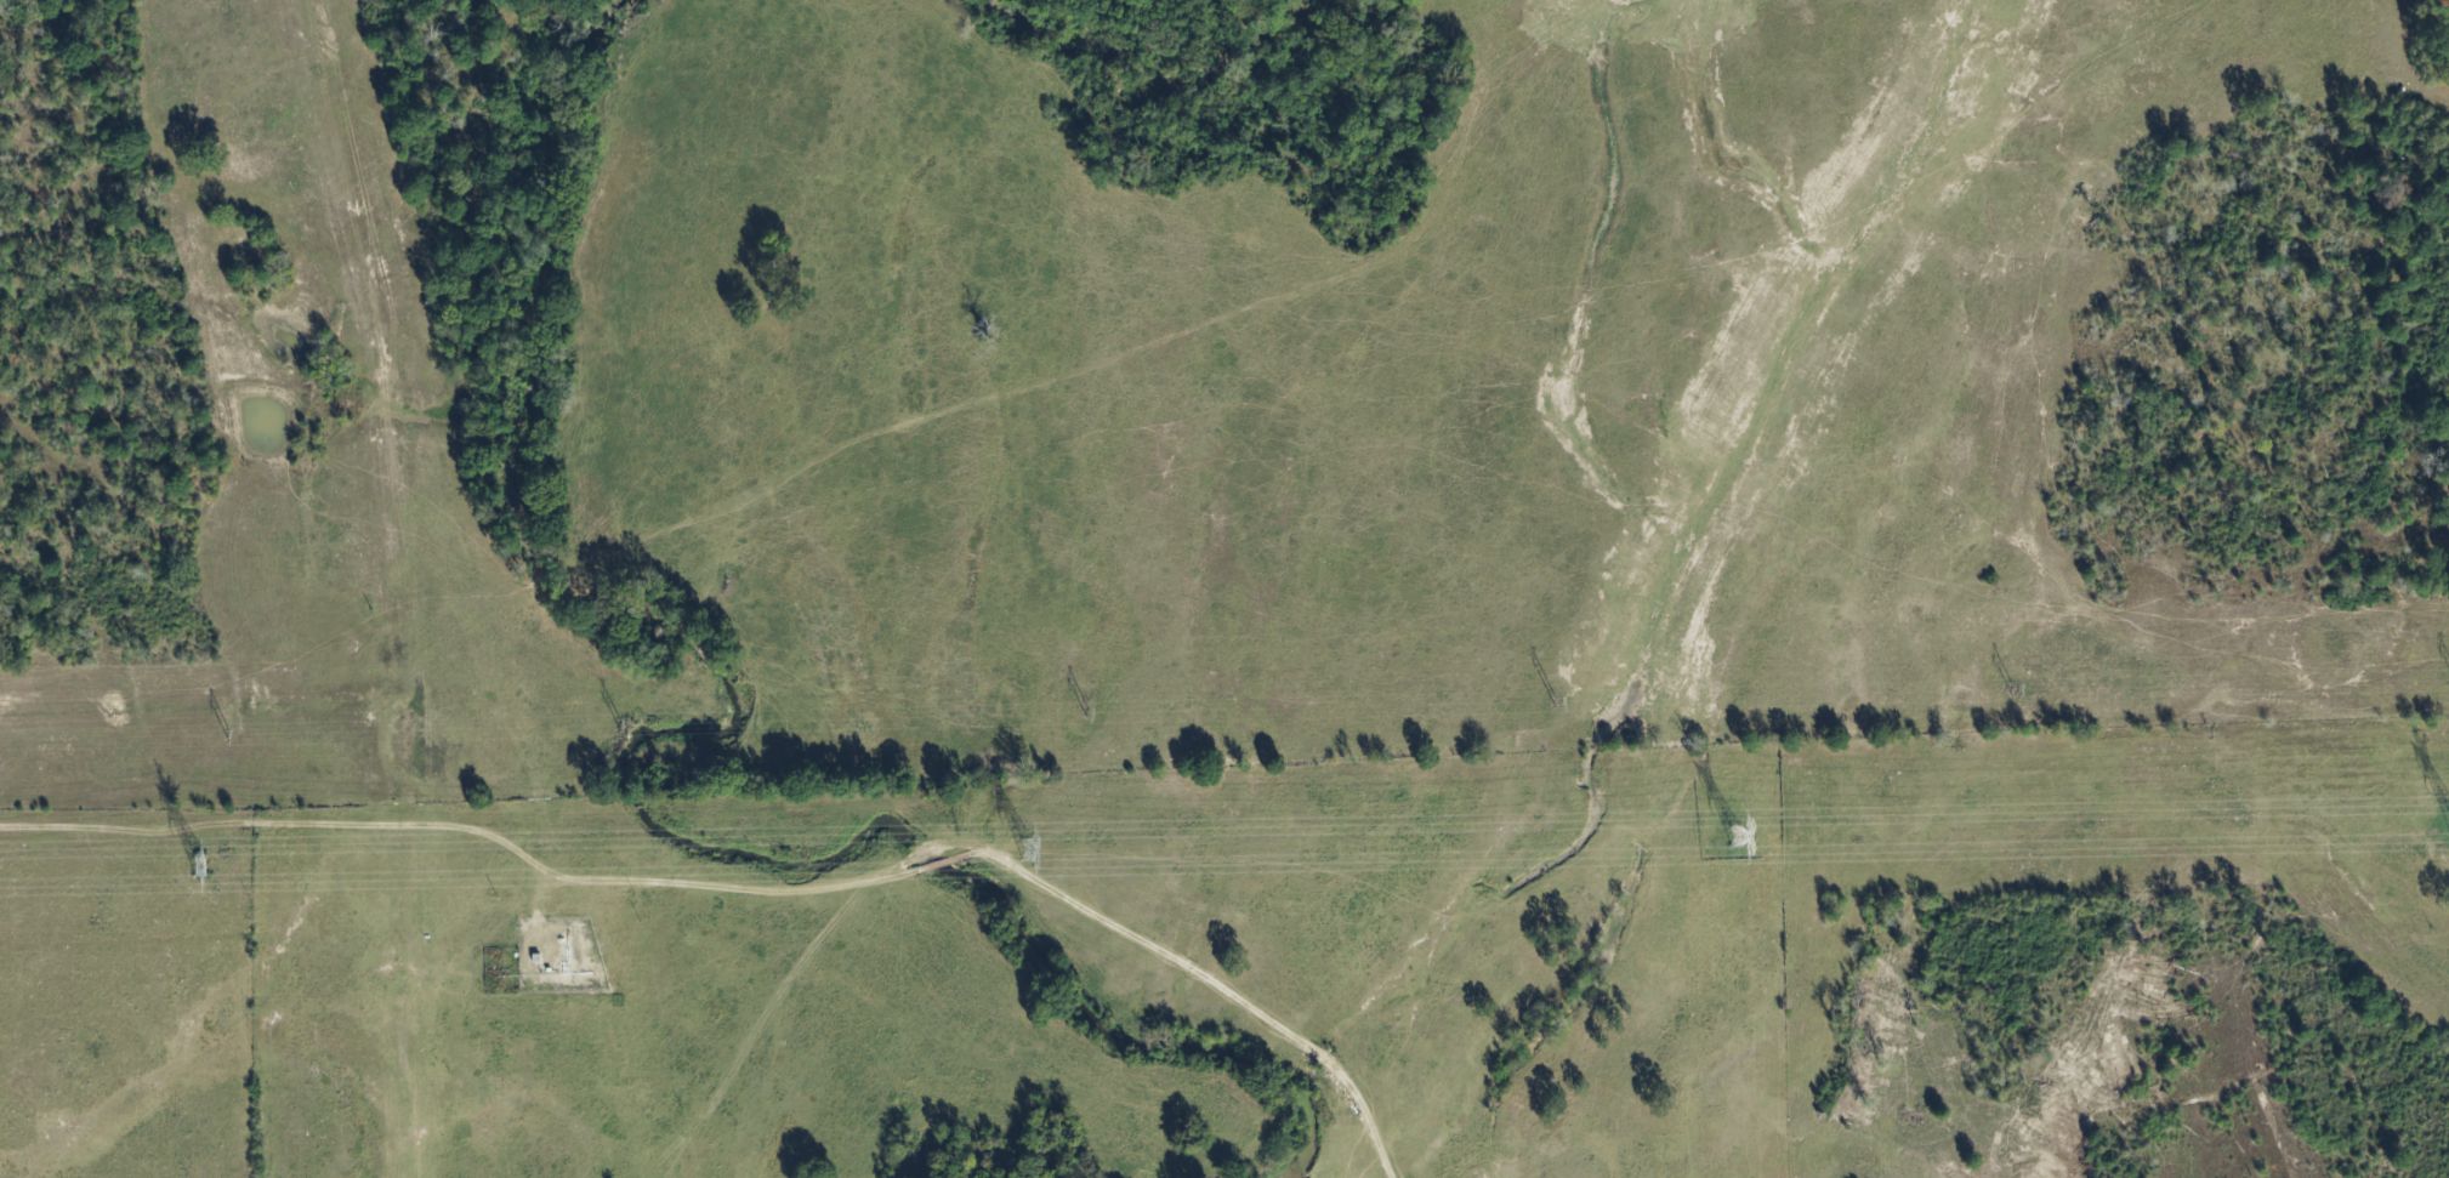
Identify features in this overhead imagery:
power tower: (2007, 692)
power tower: (1545, 704)
power tower: (1081, 716)
power tower: (604, 725)
power tower: (226, 738)
power tower: (1731, 838)
power tower: (1017, 848)
power tower: (192, 866)

